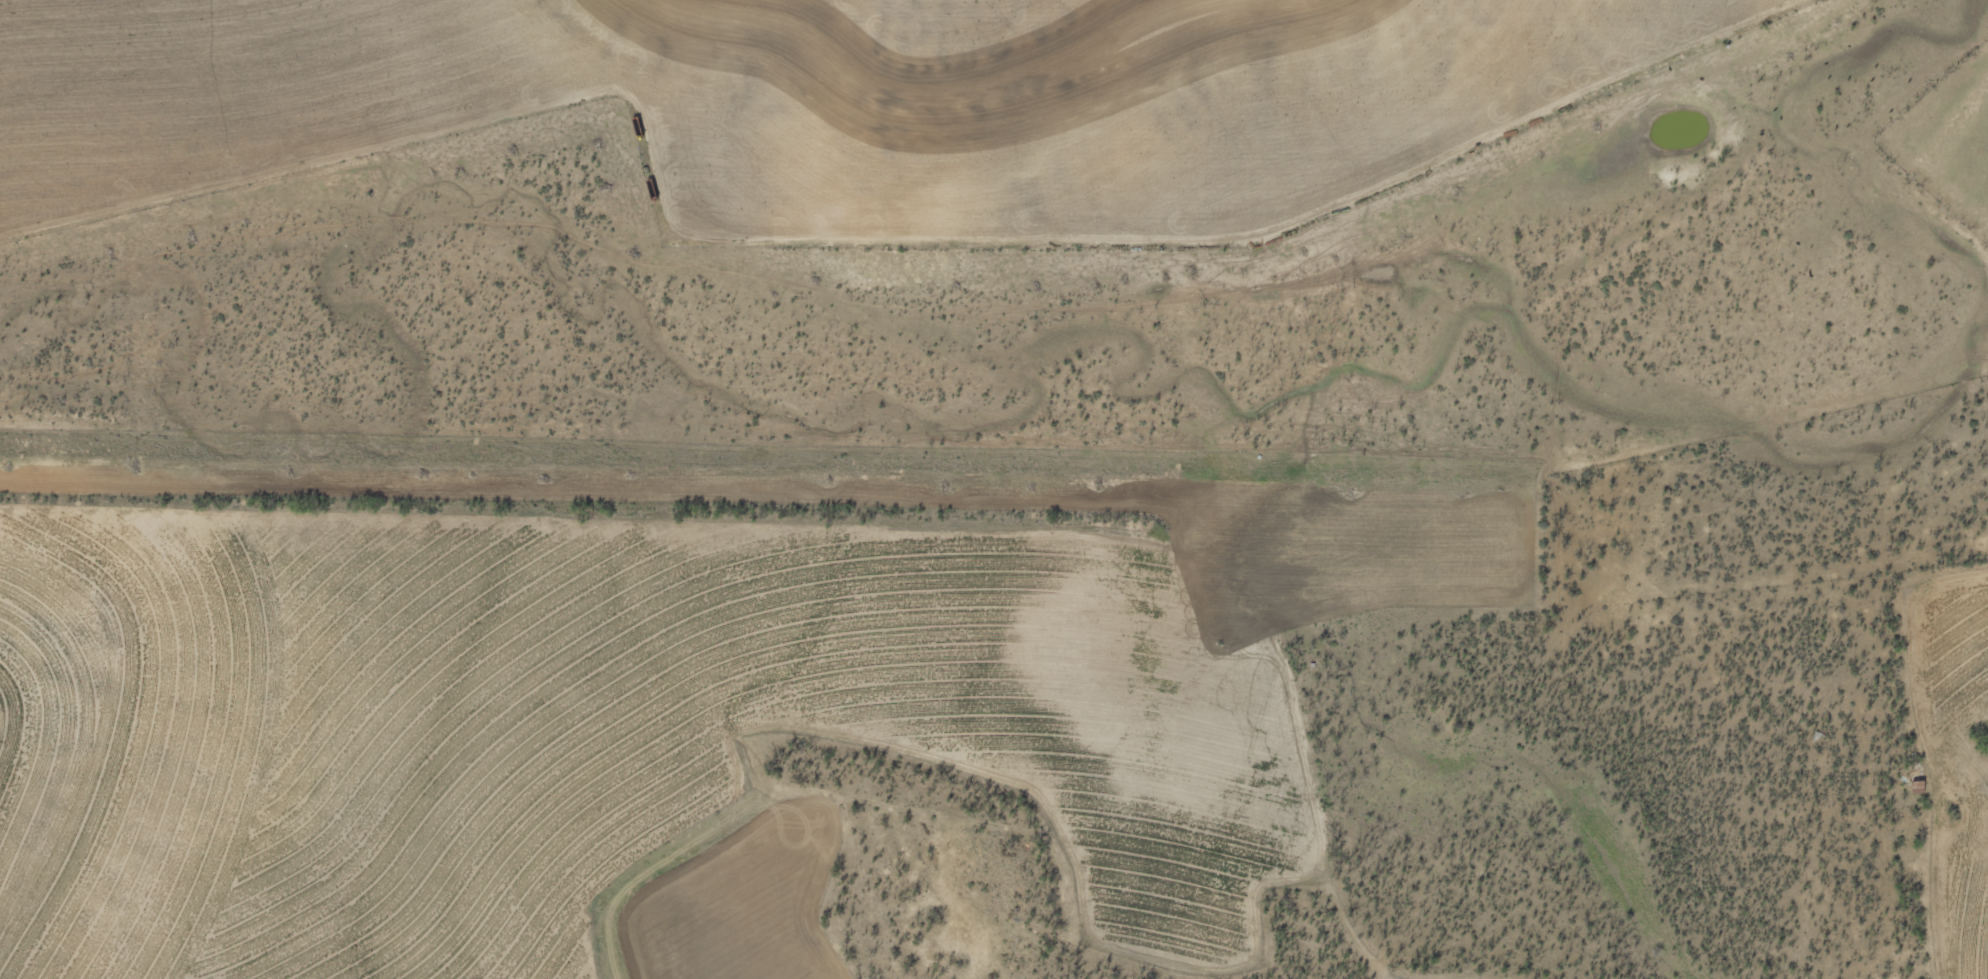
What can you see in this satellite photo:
road: (1959, 918)

